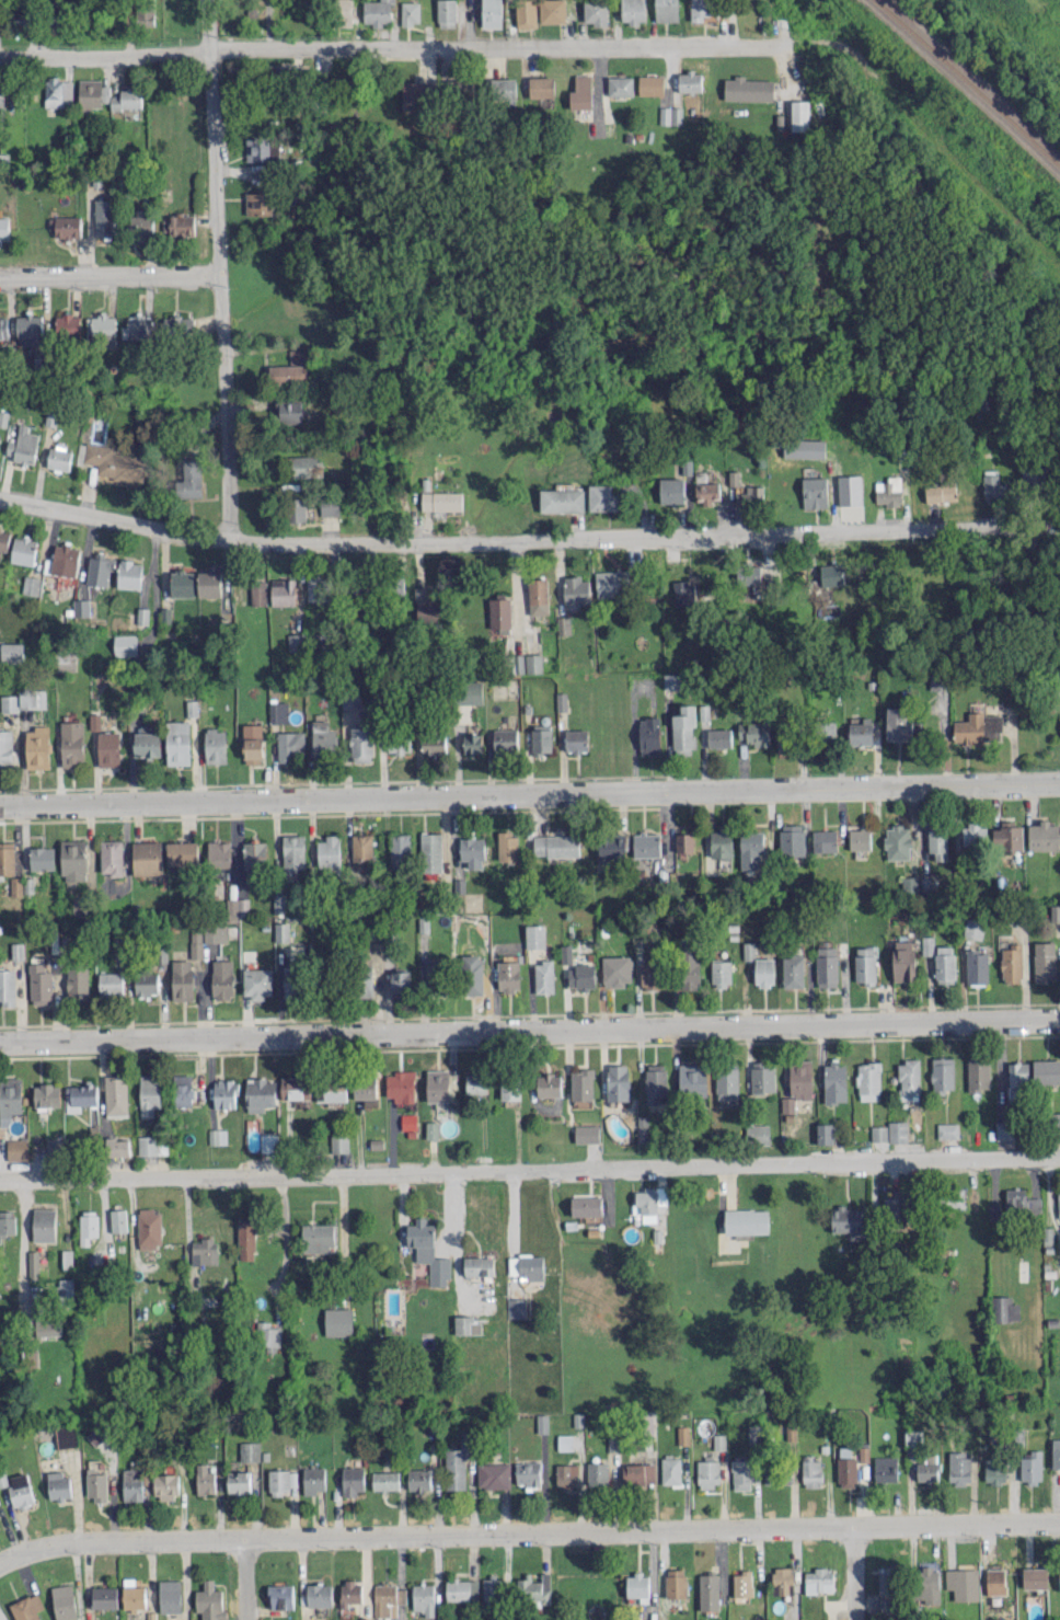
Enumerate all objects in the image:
building: (700, 9)
building: (666, 10)
building: (377, 11)
building: (552, 11)
building: (595, 11)
building: (633, 11)
building: (343, 12)
building: (411, 12)
building: (446, 13)
building: (491, 13)
building: (526, 13)
building: (145, 15)
road: (209, 25)
road: (388, 45)
building: (689, 81)
railway: (969, 81)
building: (650, 84)
building: (620, 85)
building: (541, 87)
building: (461, 88)
building: (503, 88)
building: (747, 89)
building: (57, 91)
building: (415, 91)
building: (581, 92)
building: (92, 93)
building: (1, 96)
building: (127, 99)
building: (799, 114)
building: (670, 115)
building: (261, 148)
building: (260, 203)
building: (103, 217)
building: (141, 225)
building: (181, 225)
building: (3, 227)
building: (66, 227)
road: (111, 272)
road: (223, 294)
building: (178, 324)
building: (67, 325)
building: (3, 326)
building: (134, 326)
building: (28, 329)
building: (100, 329)
building: (290, 369)
building: (289, 411)
building: (23, 446)
building: (804, 448)
building: (59, 457)
building: (112, 461)
building: (306, 466)
building: (1033, 475)
building: (734, 478)
building: (992, 484)
building: (188, 487)
building: (671, 490)
building: (849, 490)
building: (889, 491)
building: (706, 492)
building: (815, 492)
building: (940, 492)
building: (749, 494)
building: (602, 497)
building: (441, 499)
building: (562, 499)
building: (330, 506)
building: (296, 509)
road: (116, 518)
road: (631, 535)
building: (3, 539)
building: (23, 550)
building: (64, 559)
building: (99, 568)
building: (128, 574)
building: (748, 574)
building: (831, 574)
building: (613, 582)
building: (181, 583)
building: (208, 583)
building: (31, 585)
building: (316, 586)
building: (399, 586)
building: (576, 589)
building: (283, 590)
building: (257, 593)
building: (683, 593)
building: (538, 595)
building: (430, 606)
building: (80, 607)
building: (500, 613)
building: (564, 625)
building: (296, 642)
building: (124, 644)
building: (11, 652)
building: (65, 659)
building: (533, 663)
building: (671, 680)
building: (470, 691)
building: (37, 698)
building: (353, 699)
building: (191, 708)
building: (704, 711)
building: (278, 712)
building: (898, 724)
building: (978, 727)
building: (683, 729)
building: (827, 729)
building: (860, 729)
building: (754, 733)
building: (648, 735)
building: (718, 737)
building: (322, 738)
building: (541, 738)
building: (505, 739)
building: (576, 740)
building: (783, 740)
building: (147, 742)
building: (177, 742)
building: (71, 743)
building: (252, 743)
building: (399, 743)
building: (472, 743)
building: (360, 744)
building: (433, 744)
building: (215, 745)
building: (289, 745)
building: (5, 747)
building: (37, 747)
building: (107, 748)
road: (529, 793)
building: (973, 834)
building: (1044, 836)
building: (1007, 837)
building: (860, 838)
building: (792, 839)
building: (823, 840)
building: (684, 841)
building: (897, 841)
building: (722, 842)
building: (937, 842)
building: (646, 843)
building: (555, 845)
building: (507, 846)
building: (612, 847)
building: (399, 849)
building: (751, 849)
building: (329, 851)
building: (430, 851)
building: (472, 851)
building: (182, 852)
building: (292, 852)
building: (361, 852)
building: (218, 853)
building: (254, 855)
building: (111, 857)
building: (7, 858)
building: (42, 858)
building: (147, 858)
building: (72, 861)
building: (923, 883)
building: (909, 884)
building: (15, 885)
building: (278, 903)
building: (79, 906)
building: (237, 907)
building: (1055, 912)
building: (973, 928)
building: (281, 931)
building: (215, 933)
building: (534, 935)
building: (195, 942)
building: (926, 944)
building: (748, 950)
building: (16, 951)
building: (566, 953)
building: (903, 960)
building: (1045, 961)
building: (1011, 963)
building: (865, 964)
building: (944, 964)
building: (826, 966)
building: (976, 966)
building: (690, 968)
building: (617, 969)
building: (763, 970)
building: (792, 970)
building: (721, 973)
building: (471, 974)
building: (650, 974)
building: (508, 975)
building: (543, 976)
building: (581, 976)
building: (292, 977)
building: (221, 978)
building: (181, 979)
building: (436, 979)
building: (110, 983)
building: (146, 983)
building: (256, 983)
building: (400, 983)
building: (39, 984)
building: (77, 984)
building: (7, 986)
building: (366, 986)
road: (530, 1030)
building: (1046, 1071)
building: (942, 1073)
building: (978, 1073)
building: (762, 1077)
building: (692, 1079)
building: (799, 1079)
building: (909, 1079)
building: (1016, 1079)
building: (868, 1080)
building: (726, 1081)
building: (476, 1082)
building: (618, 1082)
building: (656, 1082)
building: (833, 1082)
building: (581, 1083)
building: (437, 1084)
building: (548, 1084)
building: (400, 1085)
building: (365, 1087)
building: (295, 1088)
building: (183, 1089)
building: (509, 1090)
building: (331, 1091)
building: (149, 1093)
building: (224, 1093)
building: (260, 1093)
building: (46, 1094)
building: (81, 1094)
building: (116, 1094)
building: (9, 1099)
building: (787, 1104)
building: (1056, 1122)
building: (643, 1128)
building: (431, 1129)
building: (1003, 1129)
building: (897, 1130)
building: (947, 1130)
building: (586, 1133)
building: (823, 1133)
building: (878, 1133)
building: (757, 1134)
building: (217, 1136)
building: (339, 1141)
building: (268, 1142)
building: (148, 1145)
building: (118, 1147)
building: (16, 1149)
road: (529, 1167)
building: (648, 1202)
building: (1021, 1202)
building: (1058, 1202)
building: (586, 1205)
building: (897, 1208)
building: (117, 1219)
building: (746, 1220)
building: (848, 1220)
building: (7, 1222)
building: (43, 1223)
road: (514, 1223)
building: (88, 1226)
building: (149, 1228)
road: (456, 1230)
building: (319, 1237)
building: (246, 1239)
road: (22, 1245)
building: (204, 1251)
building: (428, 1251)
building: (67, 1257)
building: (33, 1264)
building: (479, 1265)
building: (527, 1265)
building: (66, 1289)
building: (516, 1307)
building: (1003, 1309)
building: (338, 1321)
building: (466, 1324)
building: (48, 1326)
building: (267, 1336)
building: (542, 1423)
building: (753, 1433)
building: (66, 1435)
building: (682, 1435)
building: (913, 1437)
building: (718, 1440)
building: (564, 1441)
building: (249, 1450)
building: (1056, 1452)
building: (456, 1464)
building: (1030, 1466)
building: (958, 1467)
building: (885, 1468)
building: (927, 1468)
building: (670, 1470)
building: (811, 1471)
building: (846, 1471)
building: (994, 1471)
building: (528, 1473)
building: (597, 1473)
building: (638, 1473)
building: (707, 1473)
building: (741, 1473)
building: (493, 1474)
building: (776, 1474)
building: (566, 1475)
building: (205, 1479)
building: (313, 1479)
building: (418, 1479)
building: (281, 1480)
building: (352, 1480)
building: (385, 1480)
building: (239, 1481)
building: (96, 1484)
building: (132, 1484)
building: (59, 1485)
building: (165, 1485)
building: (21, 1490)
building: (0, 1502)
road: (528, 1531)
road: (855, 1572)
building: (1035, 1577)
building: (1059, 1577)
road: (247, 1578)
building: (782, 1579)
building: (887, 1579)
building: (819, 1581)
building: (995, 1581)
building: (676, 1583)
building: (742, 1583)
building: (963, 1583)
building: (929, 1584)
building: (638, 1586)
building: (533, 1588)
building: (462, 1589)
building: (491, 1589)
building: (708, 1590)
building: (350, 1593)
building: (134, 1594)
building: (320, 1594)
building: (170, 1596)
building: (281, 1596)
building: (104, 1597)
building: (424, 1598)
building: (388, 1599)
building: (64, 1601)
building: (210, 1601)
building: (26, 1607)

